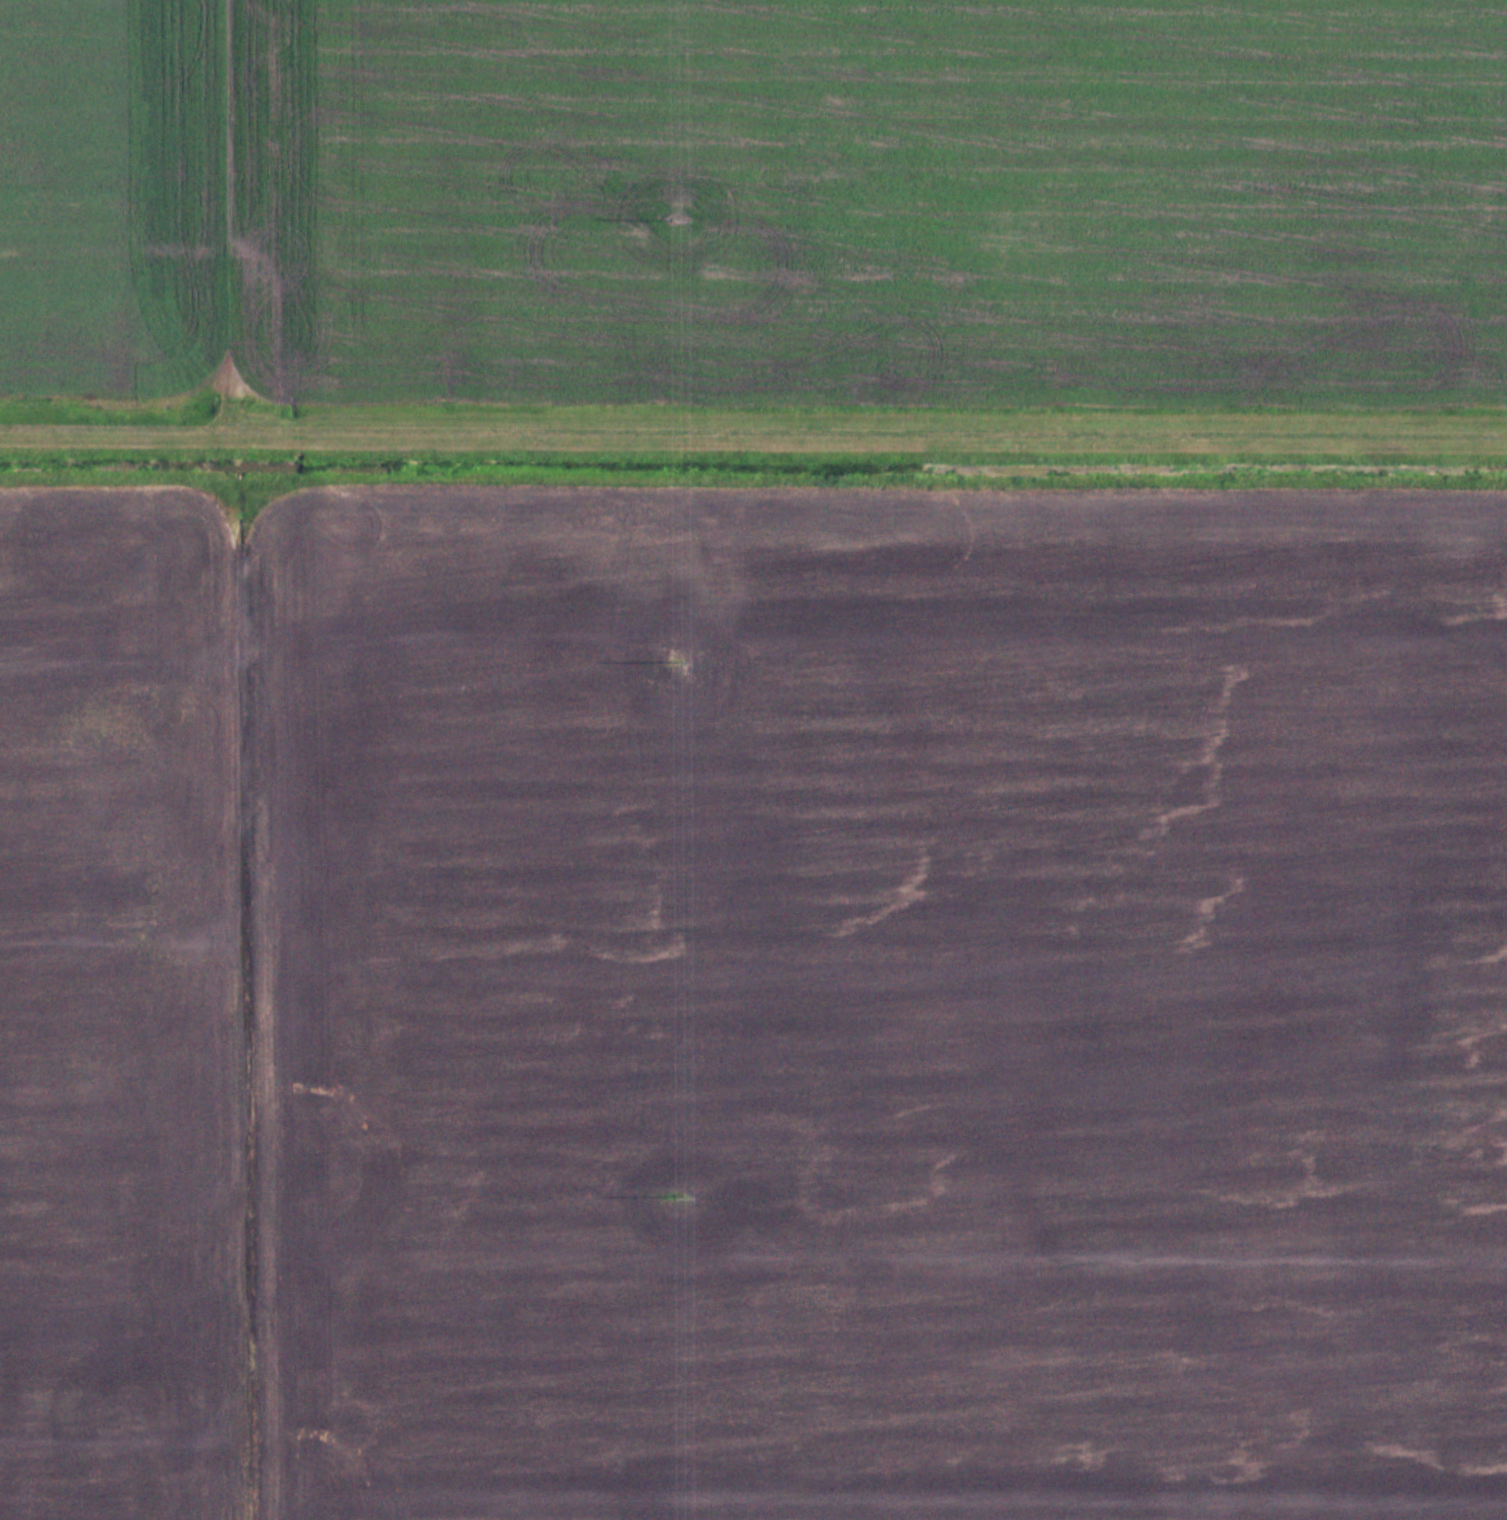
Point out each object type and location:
crop: (759, 202)
power tower: (675, 219)
road: (753, 427)
power tower: (669, 661)
crop: (878, 1000)
crop: (125, 1011)
power tower: (676, 1196)

